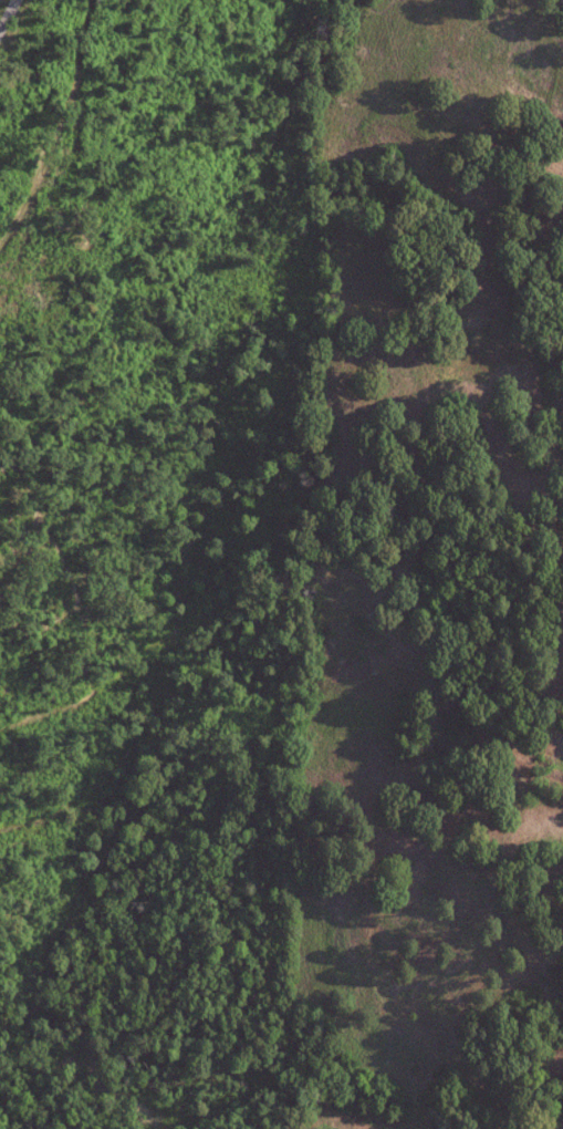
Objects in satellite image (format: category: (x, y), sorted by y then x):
road: (4, 15)

